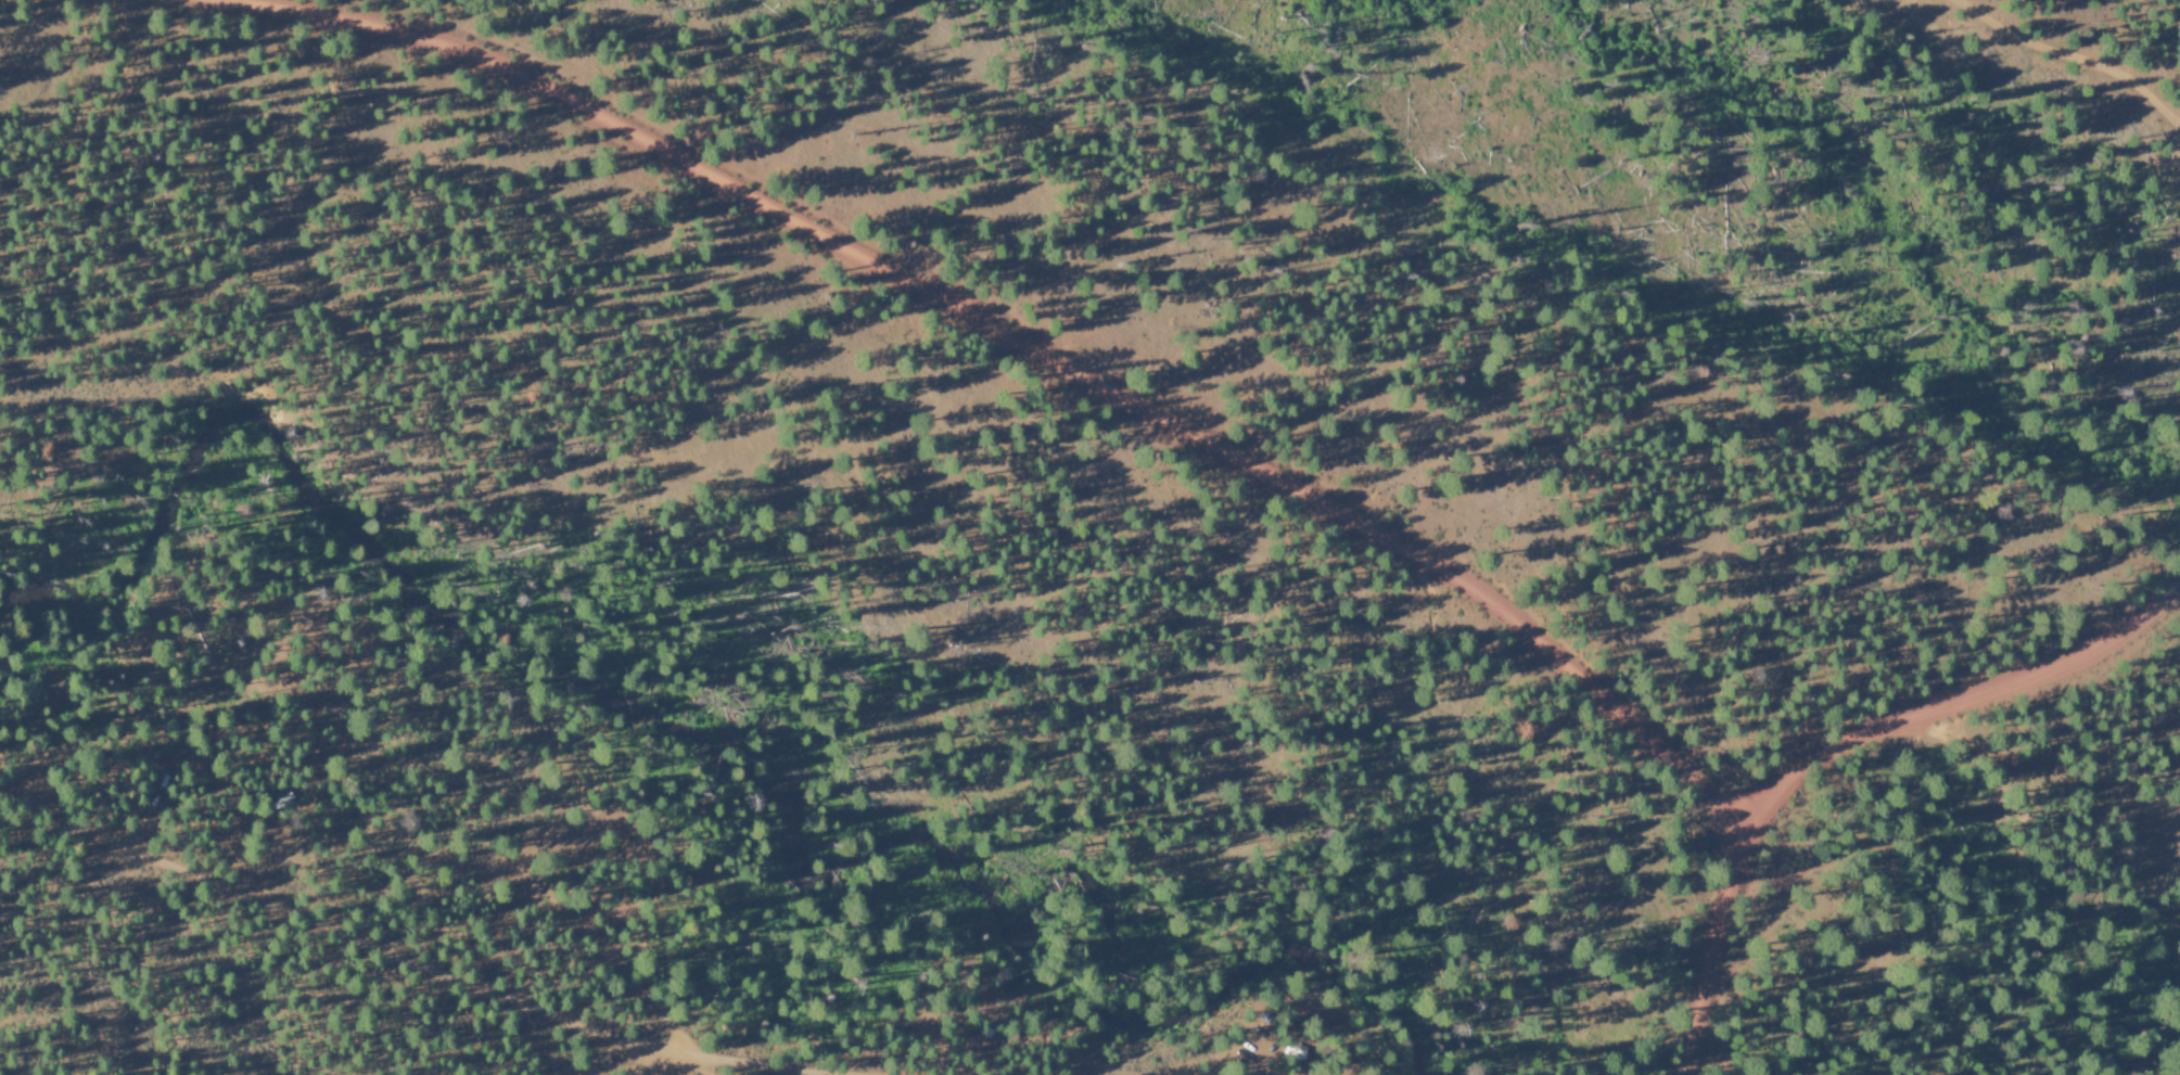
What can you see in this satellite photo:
road: (2074, 56)
road: (1019, 344)
road: (852, 546)
road: (1837, 744)
road: (410, 959)

